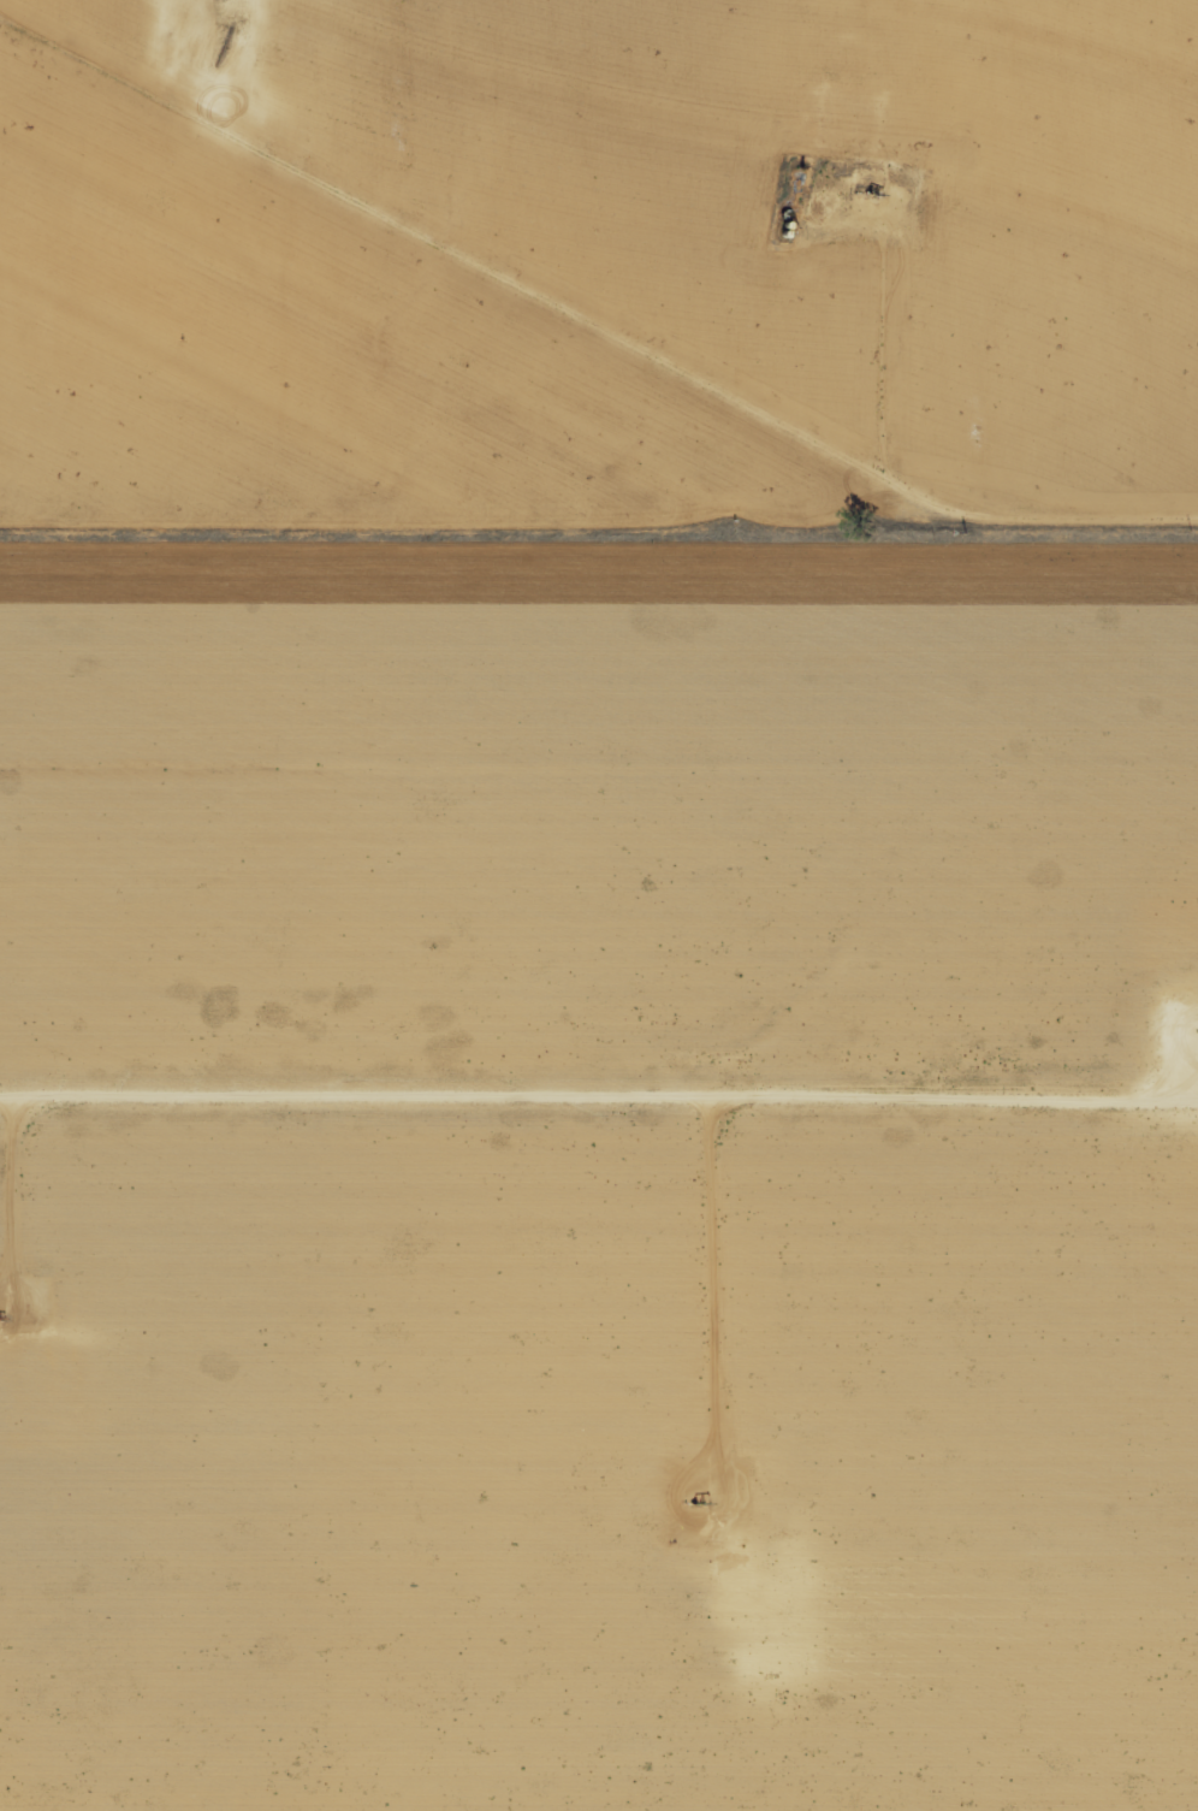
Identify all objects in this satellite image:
petroleum well: (873, 197)
road: (599, 1105)
petroleum well: (692, 1508)

